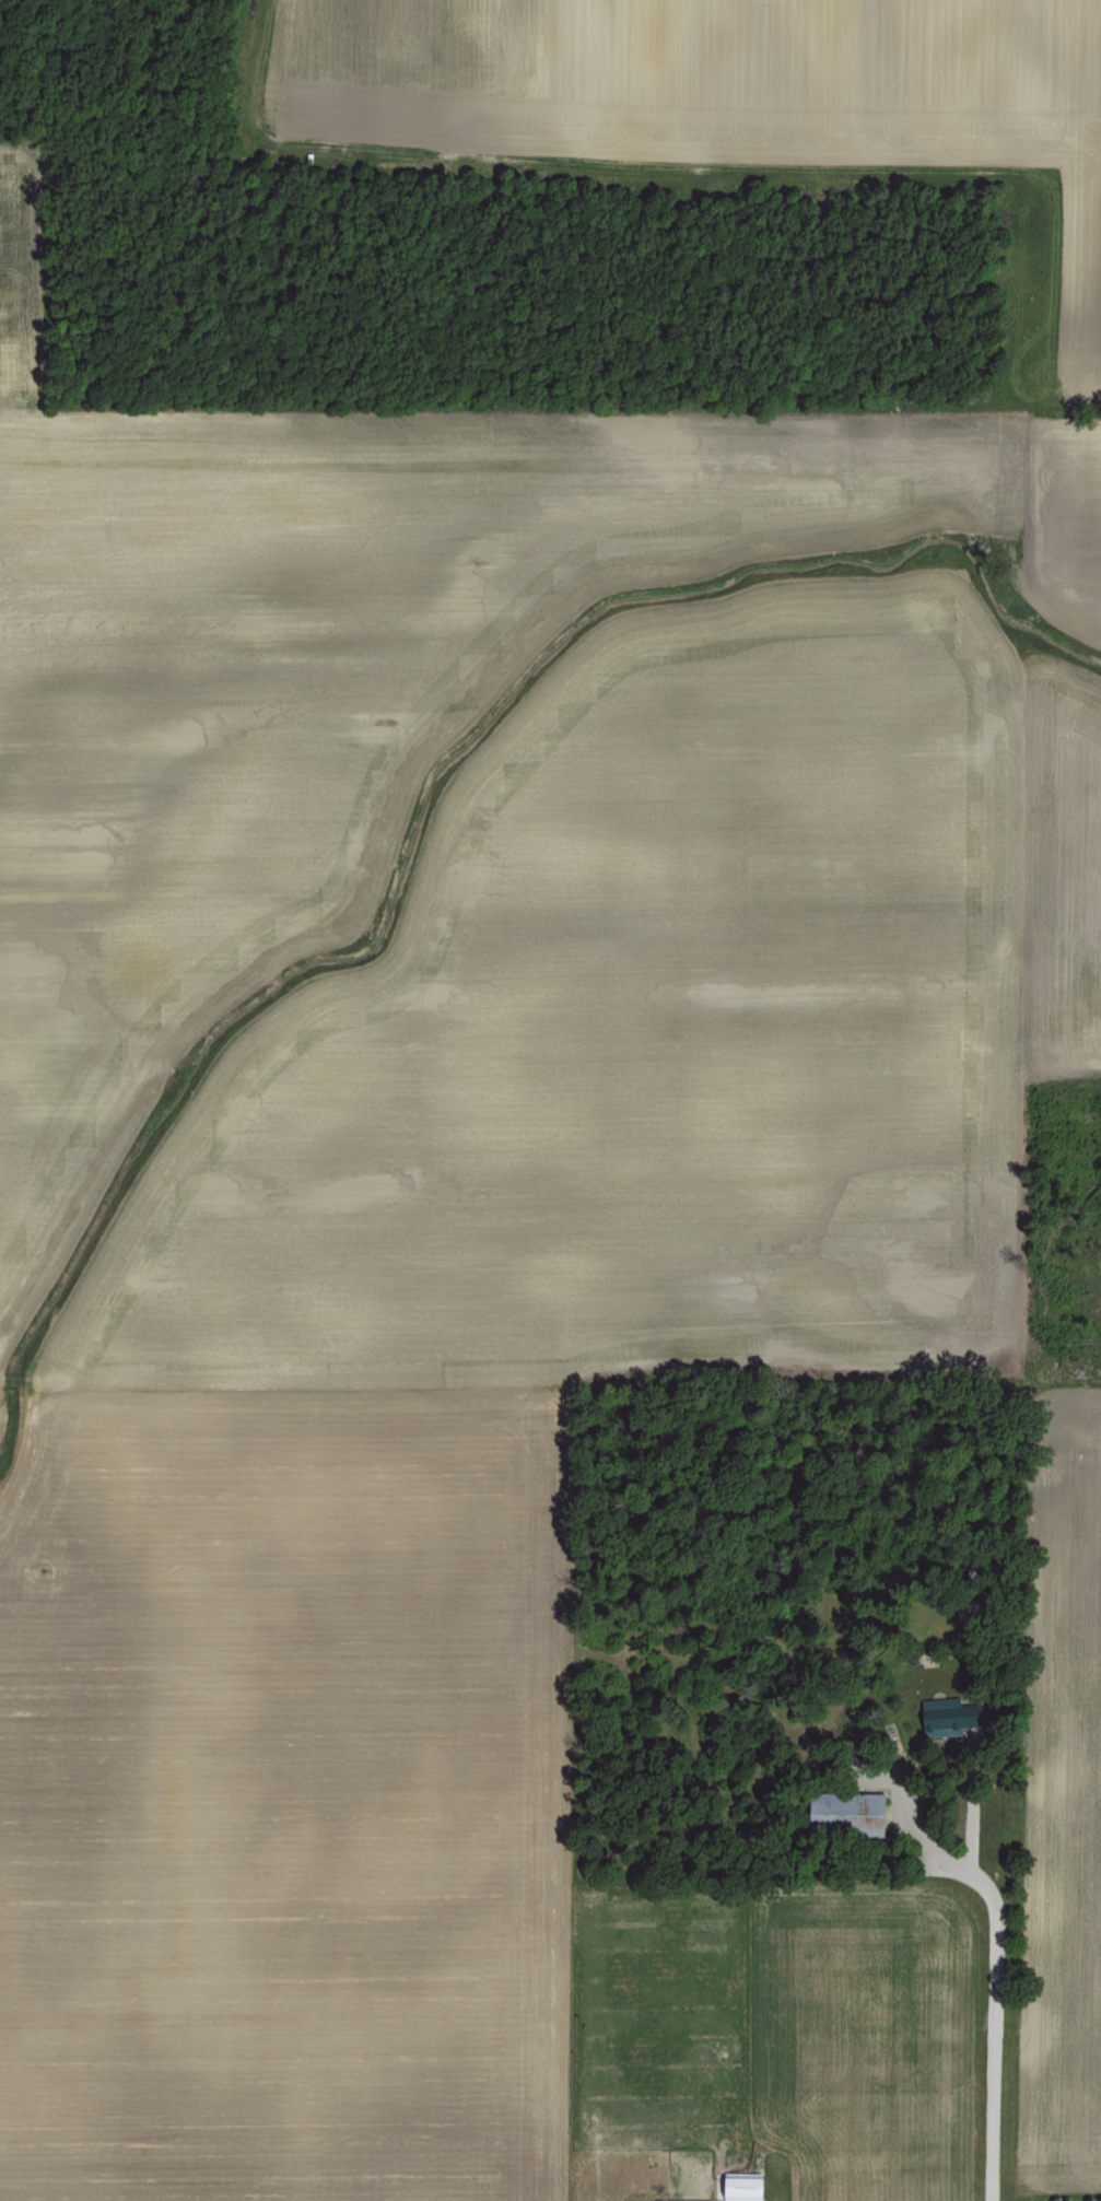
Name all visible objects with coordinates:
building: (935, 1716)
building: (841, 1813)
road: (993, 1944)
building: (737, 2186)

